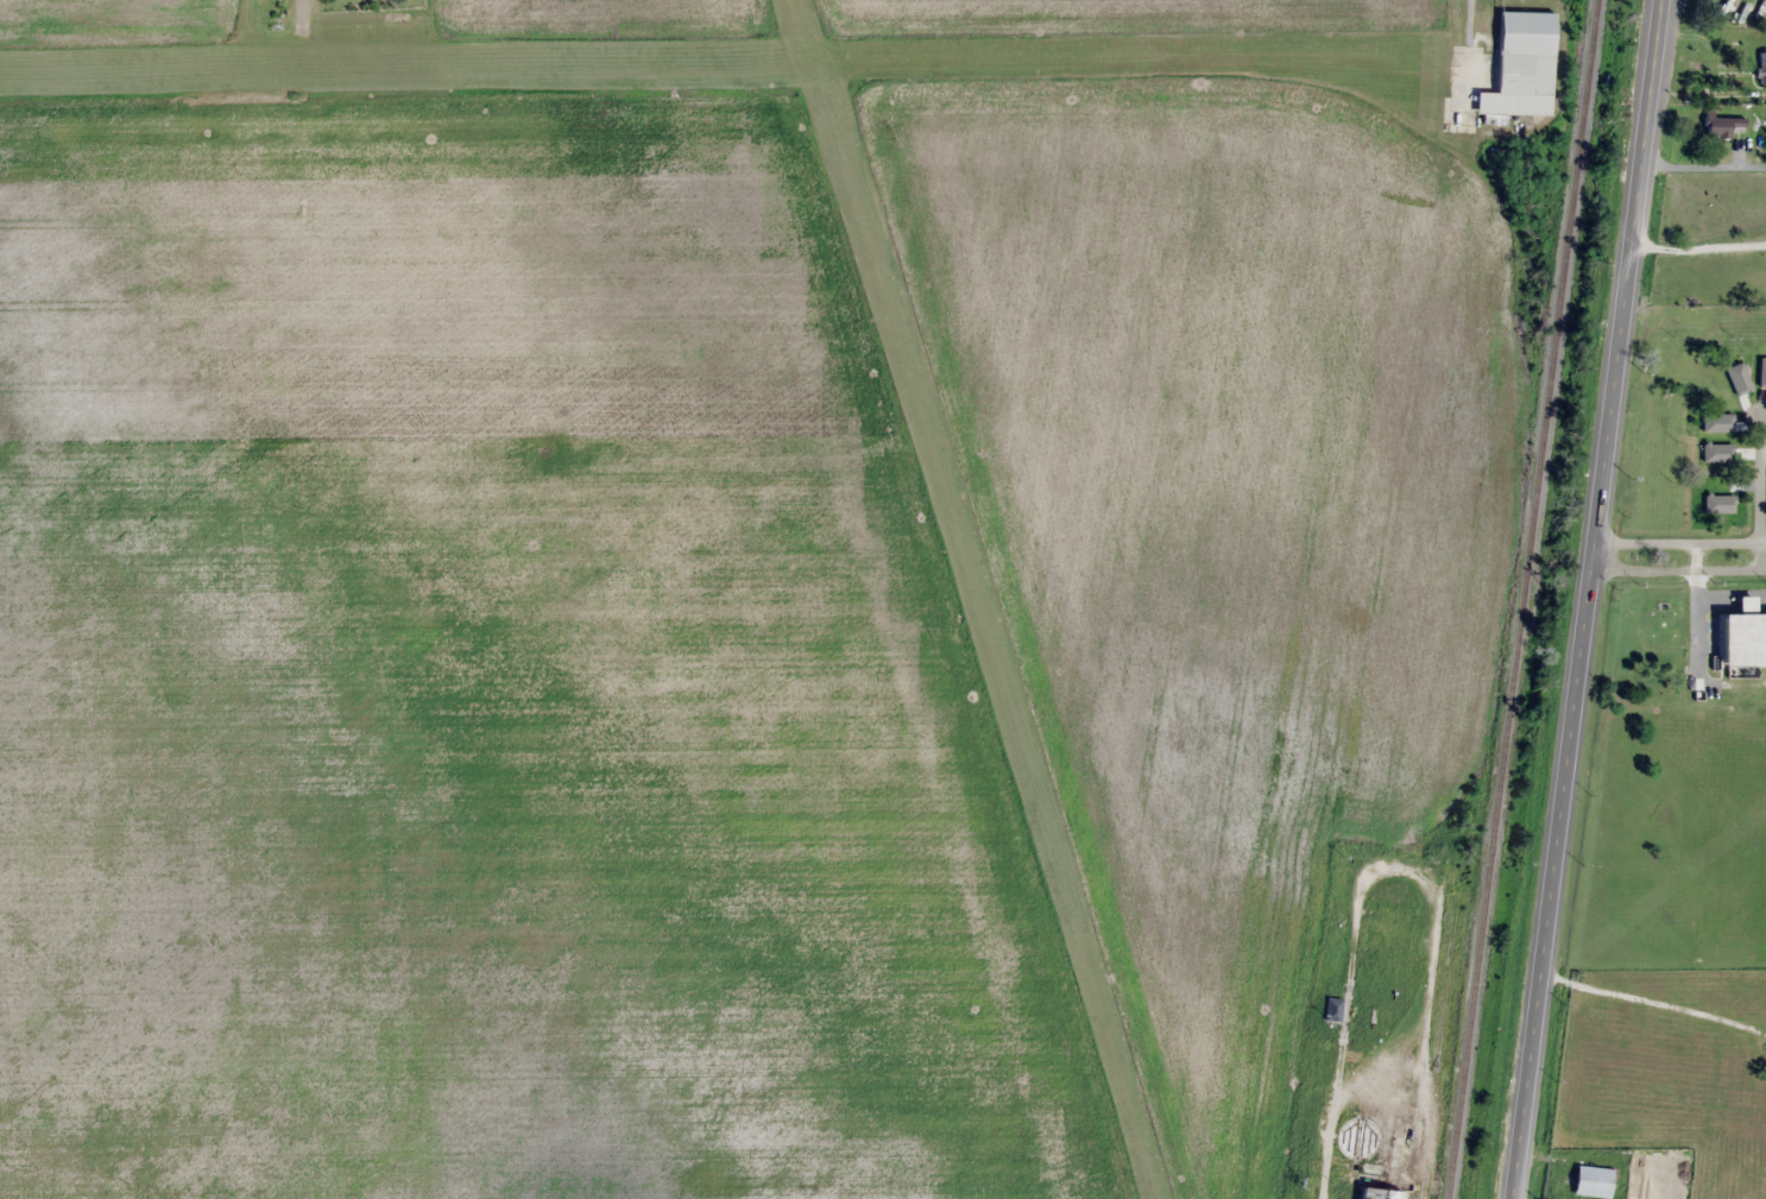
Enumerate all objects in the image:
building: (1756, 11)
building: (1520, 65)
building: (1761, 68)
airport runway: (695, 71)
building: (1720, 124)
road: (1697, 246)
building: (1759, 367)
building: (1732, 377)
building: (1722, 422)
building: (1709, 459)
road: (1760, 482)
building: (1723, 500)
road: (1679, 554)
airport runway: (979, 599)
railway: (1521, 599)
road: (1587, 599)
road: (1653, 1002)
building: (1331, 1008)
building: (1357, 1136)
building: (1402, 1149)
building: (1590, 1180)
building: (1376, 1193)

